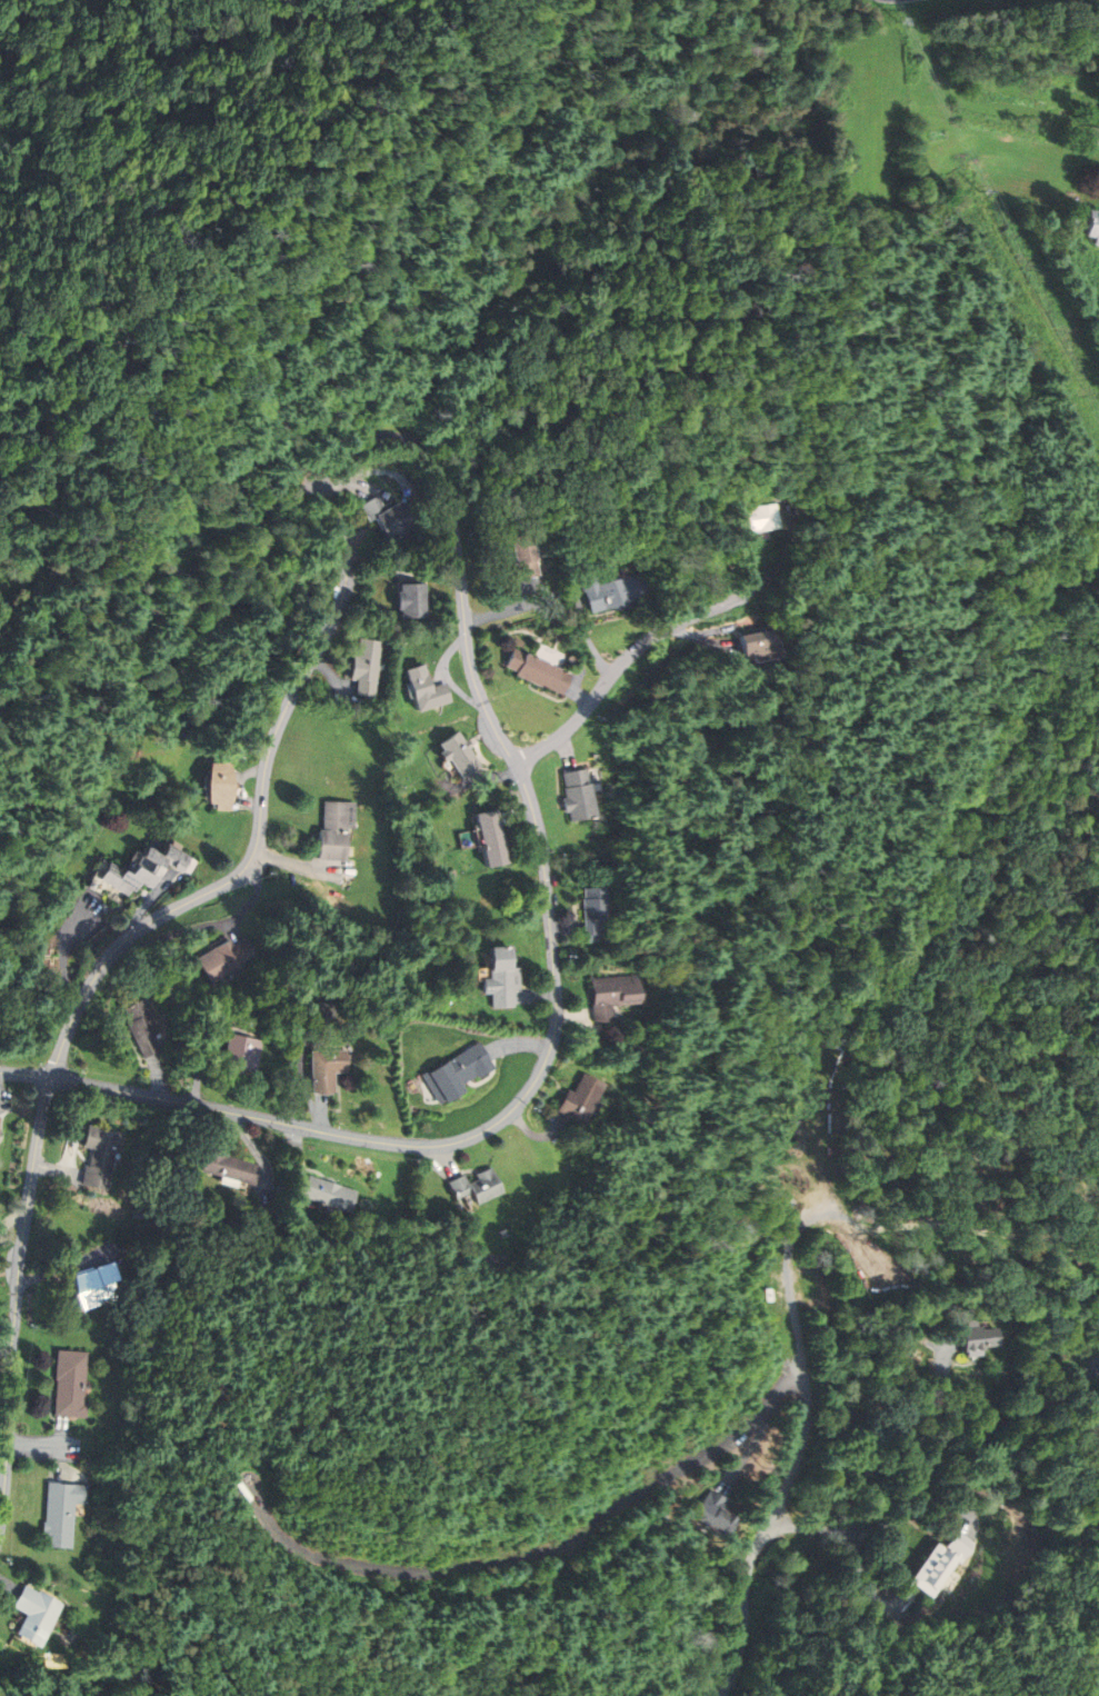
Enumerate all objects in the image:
power tower: (893, 21)
power tower: (978, 190)
building: (1092, 228)
building: (391, 517)
building: (759, 518)
building: (524, 557)
building: (610, 589)
building: (412, 600)
road: (463, 613)
building: (757, 644)
road: (626, 660)
building: (367, 666)
building: (537, 671)
building: (426, 689)
building: (460, 754)
building: (220, 785)
building: (578, 794)
building: (336, 829)
building: (491, 838)
building: (141, 870)
building: (592, 910)
building: (224, 958)
building: (502, 978)
building: (610, 994)
building: (142, 1026)
building: (241, 1055)
building: (327, 1068)
building: (459, 1071)
road: (26, 1074)
building: (580, 1099)
building: (0, 1126)
building: (102, 1155)
building: (229, 1166)
building: (476, 1186)
building: (329, 1193)
building: (98, 1285)
building: (755, 1288)
road: (17, 1295)
building: (979, 1338)
building: (70, 1383)
road: (952, 1403)
road: (749, 1449)
road: (936, 1459)
road: (917, 1504)
building: (60, 1513)
building: (715, 1513)
road: (767, 1532)
road: (537, 1552)
building: (942, 1563)
road: (870, 1588)
building: (34, 1614)

